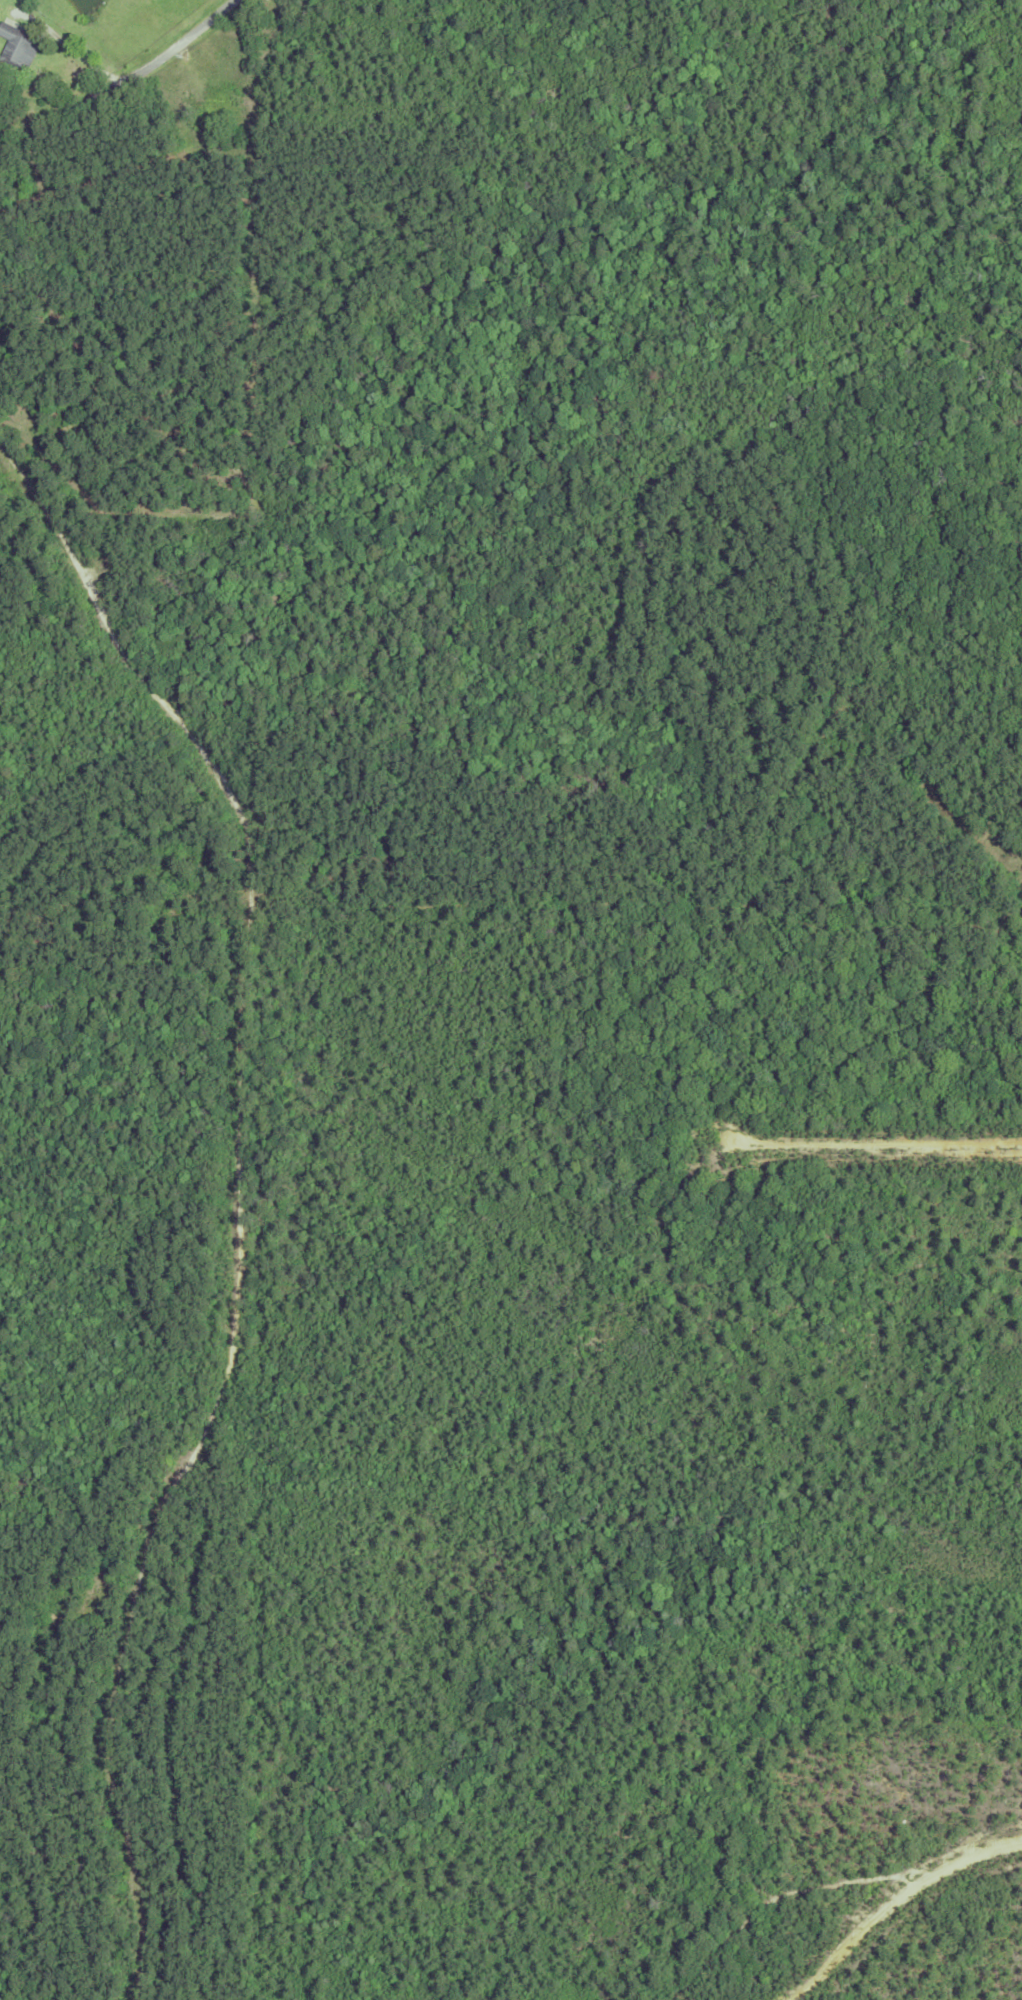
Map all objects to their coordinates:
road: (181, 45)
building: (20, 47)
building: (219, 95)
building: (195, 107)

